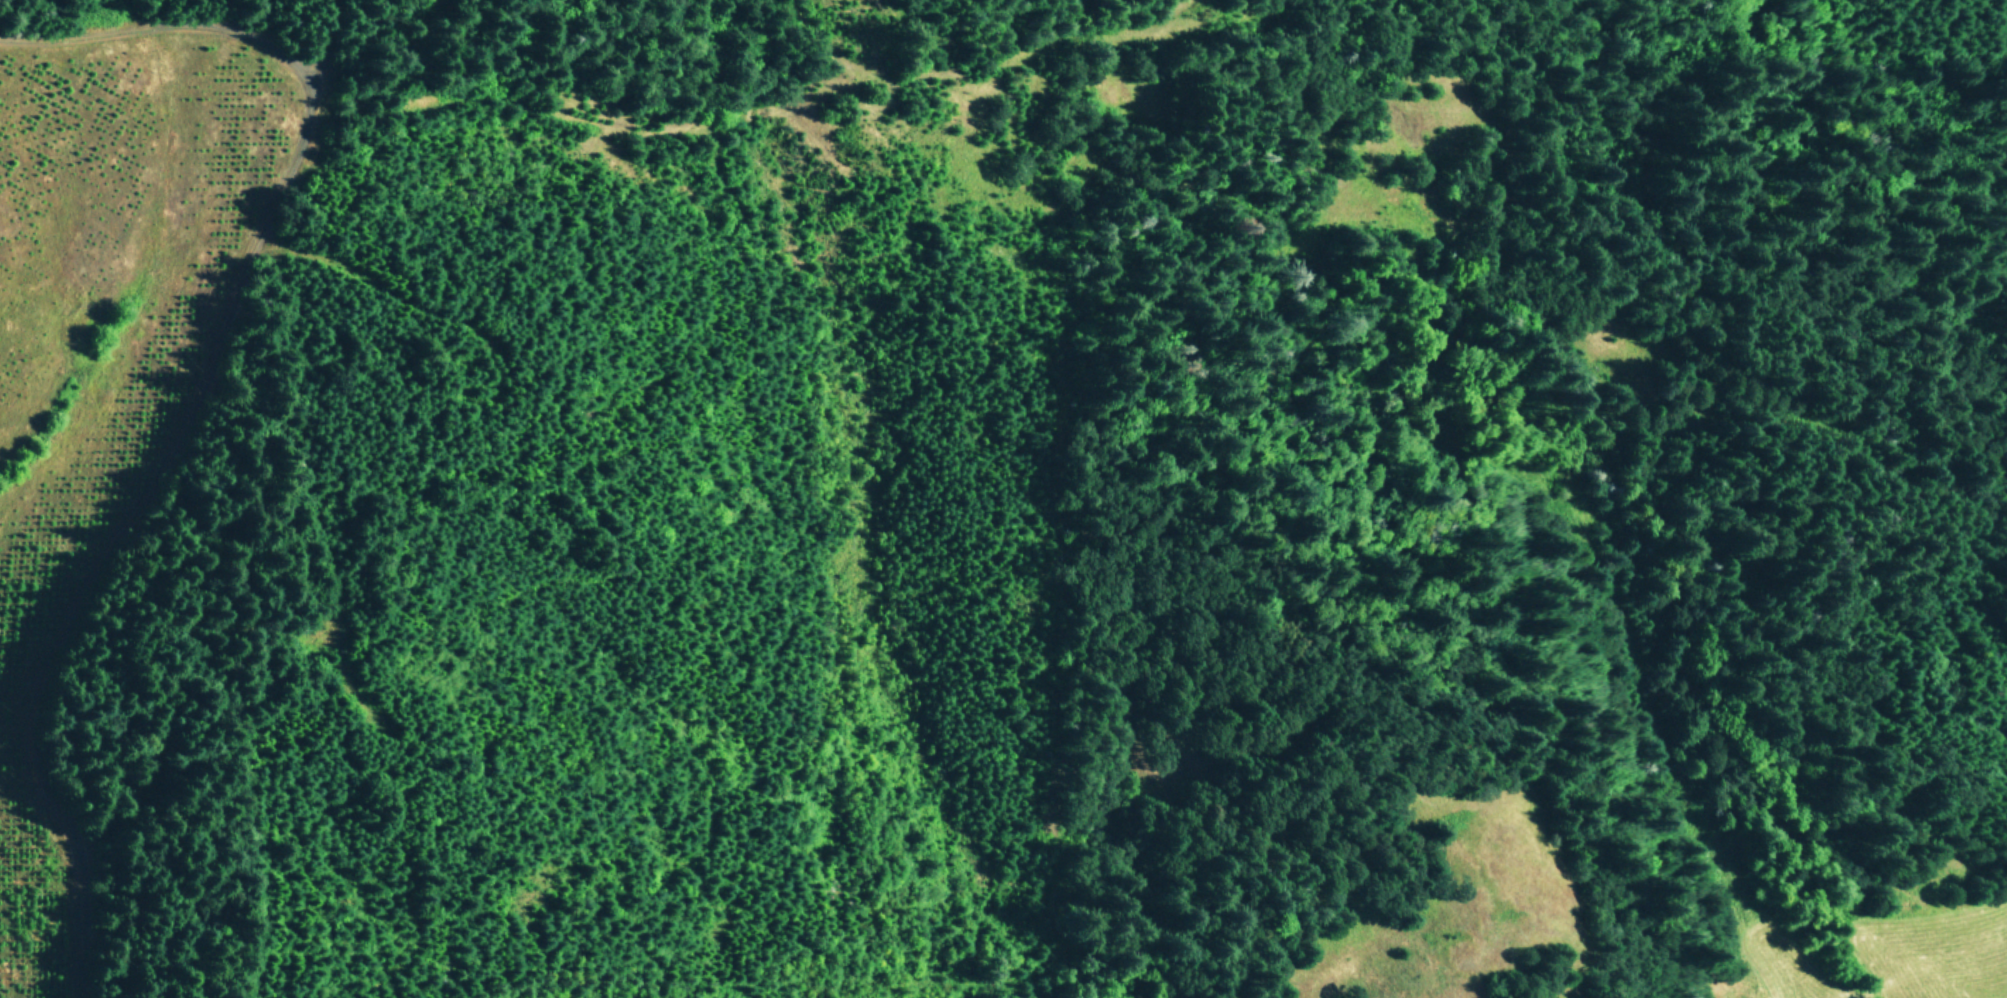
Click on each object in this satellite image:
road: (188, 391)
road: (446, 517)

